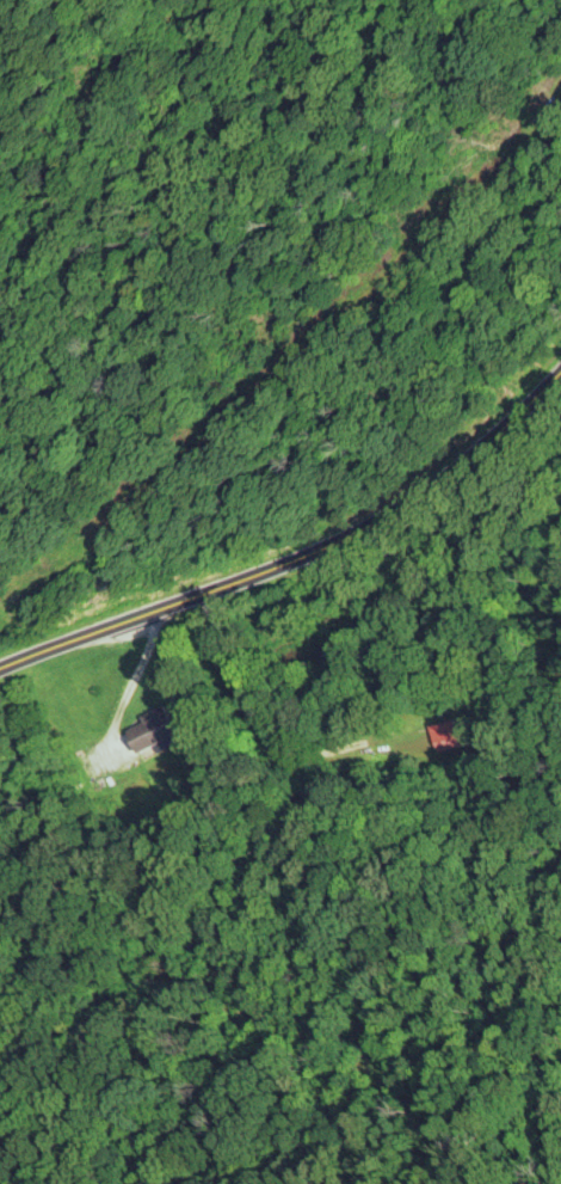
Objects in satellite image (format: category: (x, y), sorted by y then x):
road: (320, 546)
building: (332, 590)
road: (140, 669)
building: (154, 729)
building: (450, 735)

